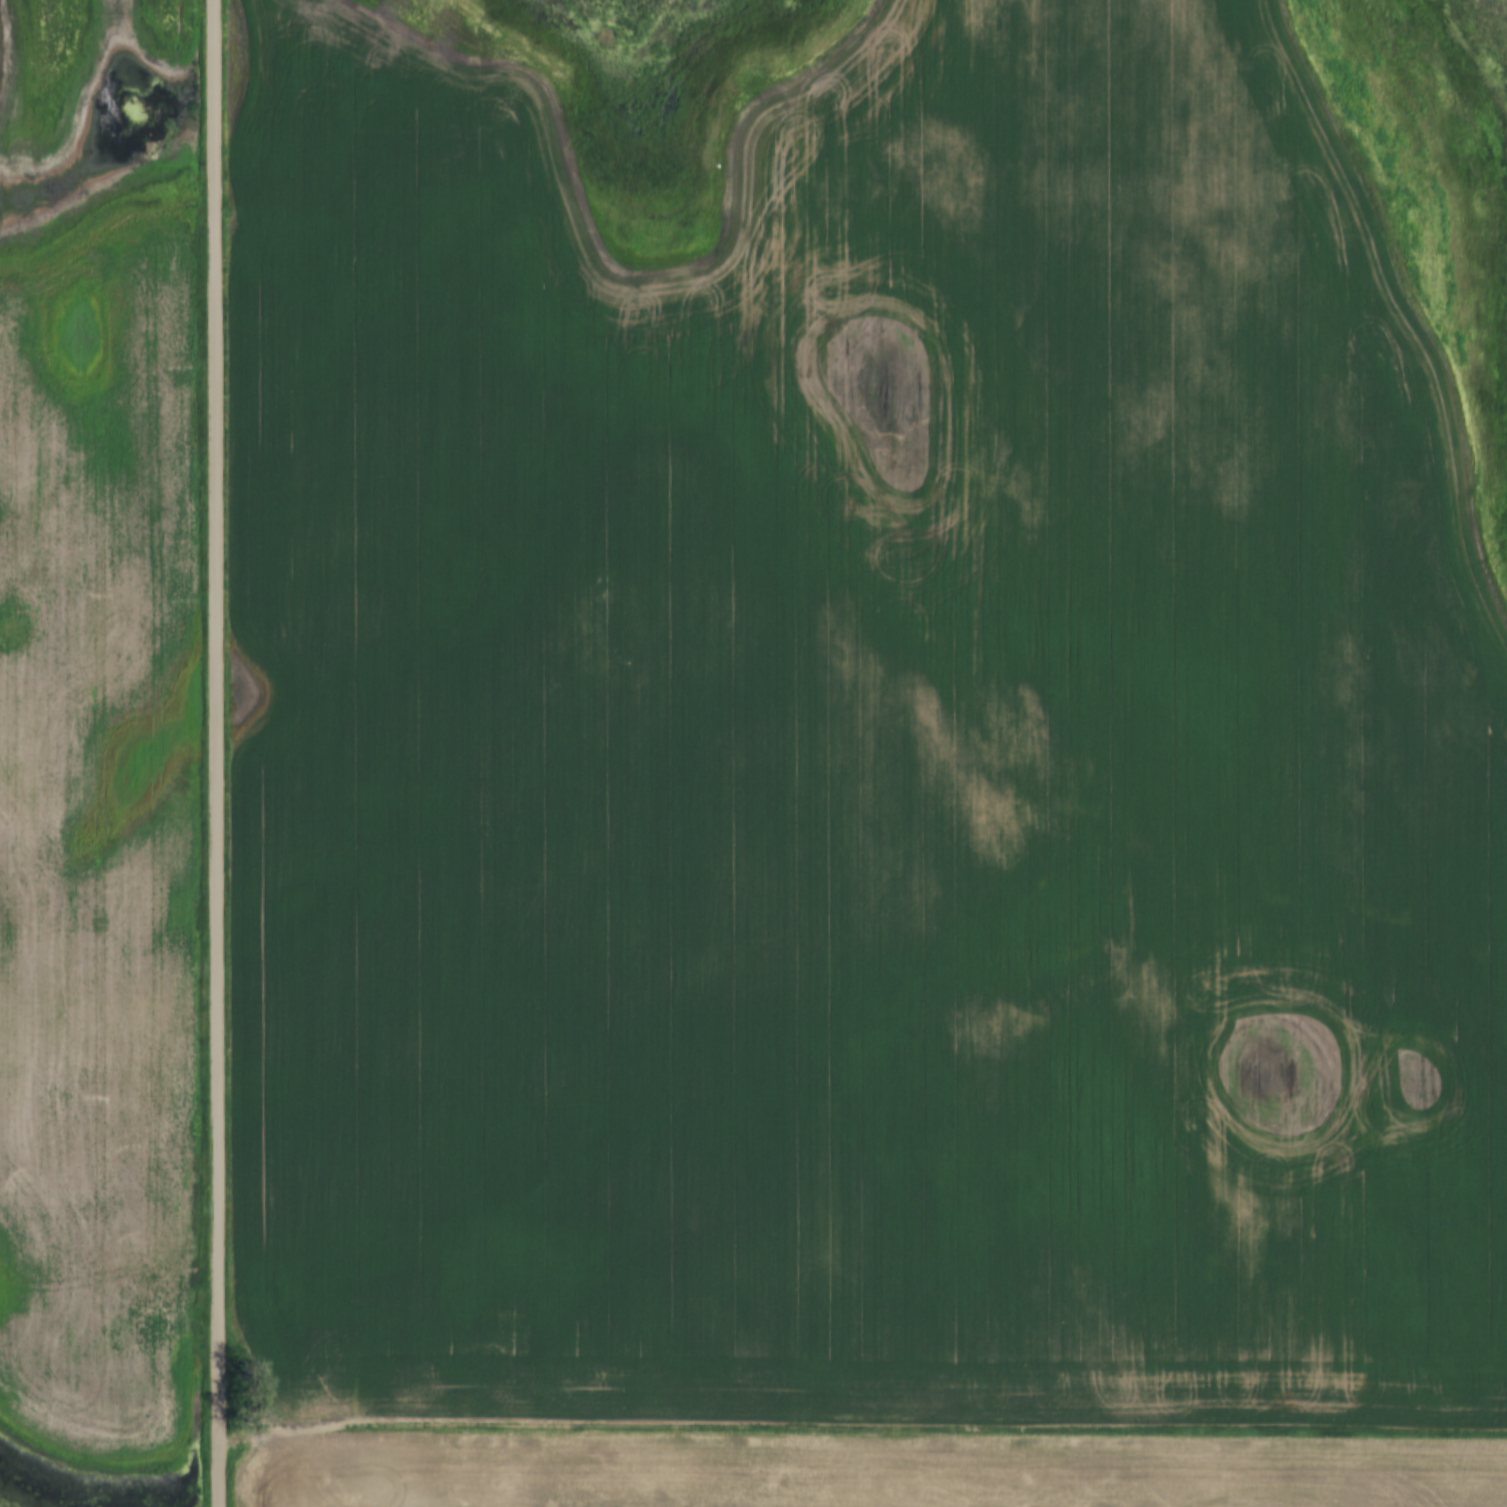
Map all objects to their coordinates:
road: (217, 753)
road: (862, 1419)

